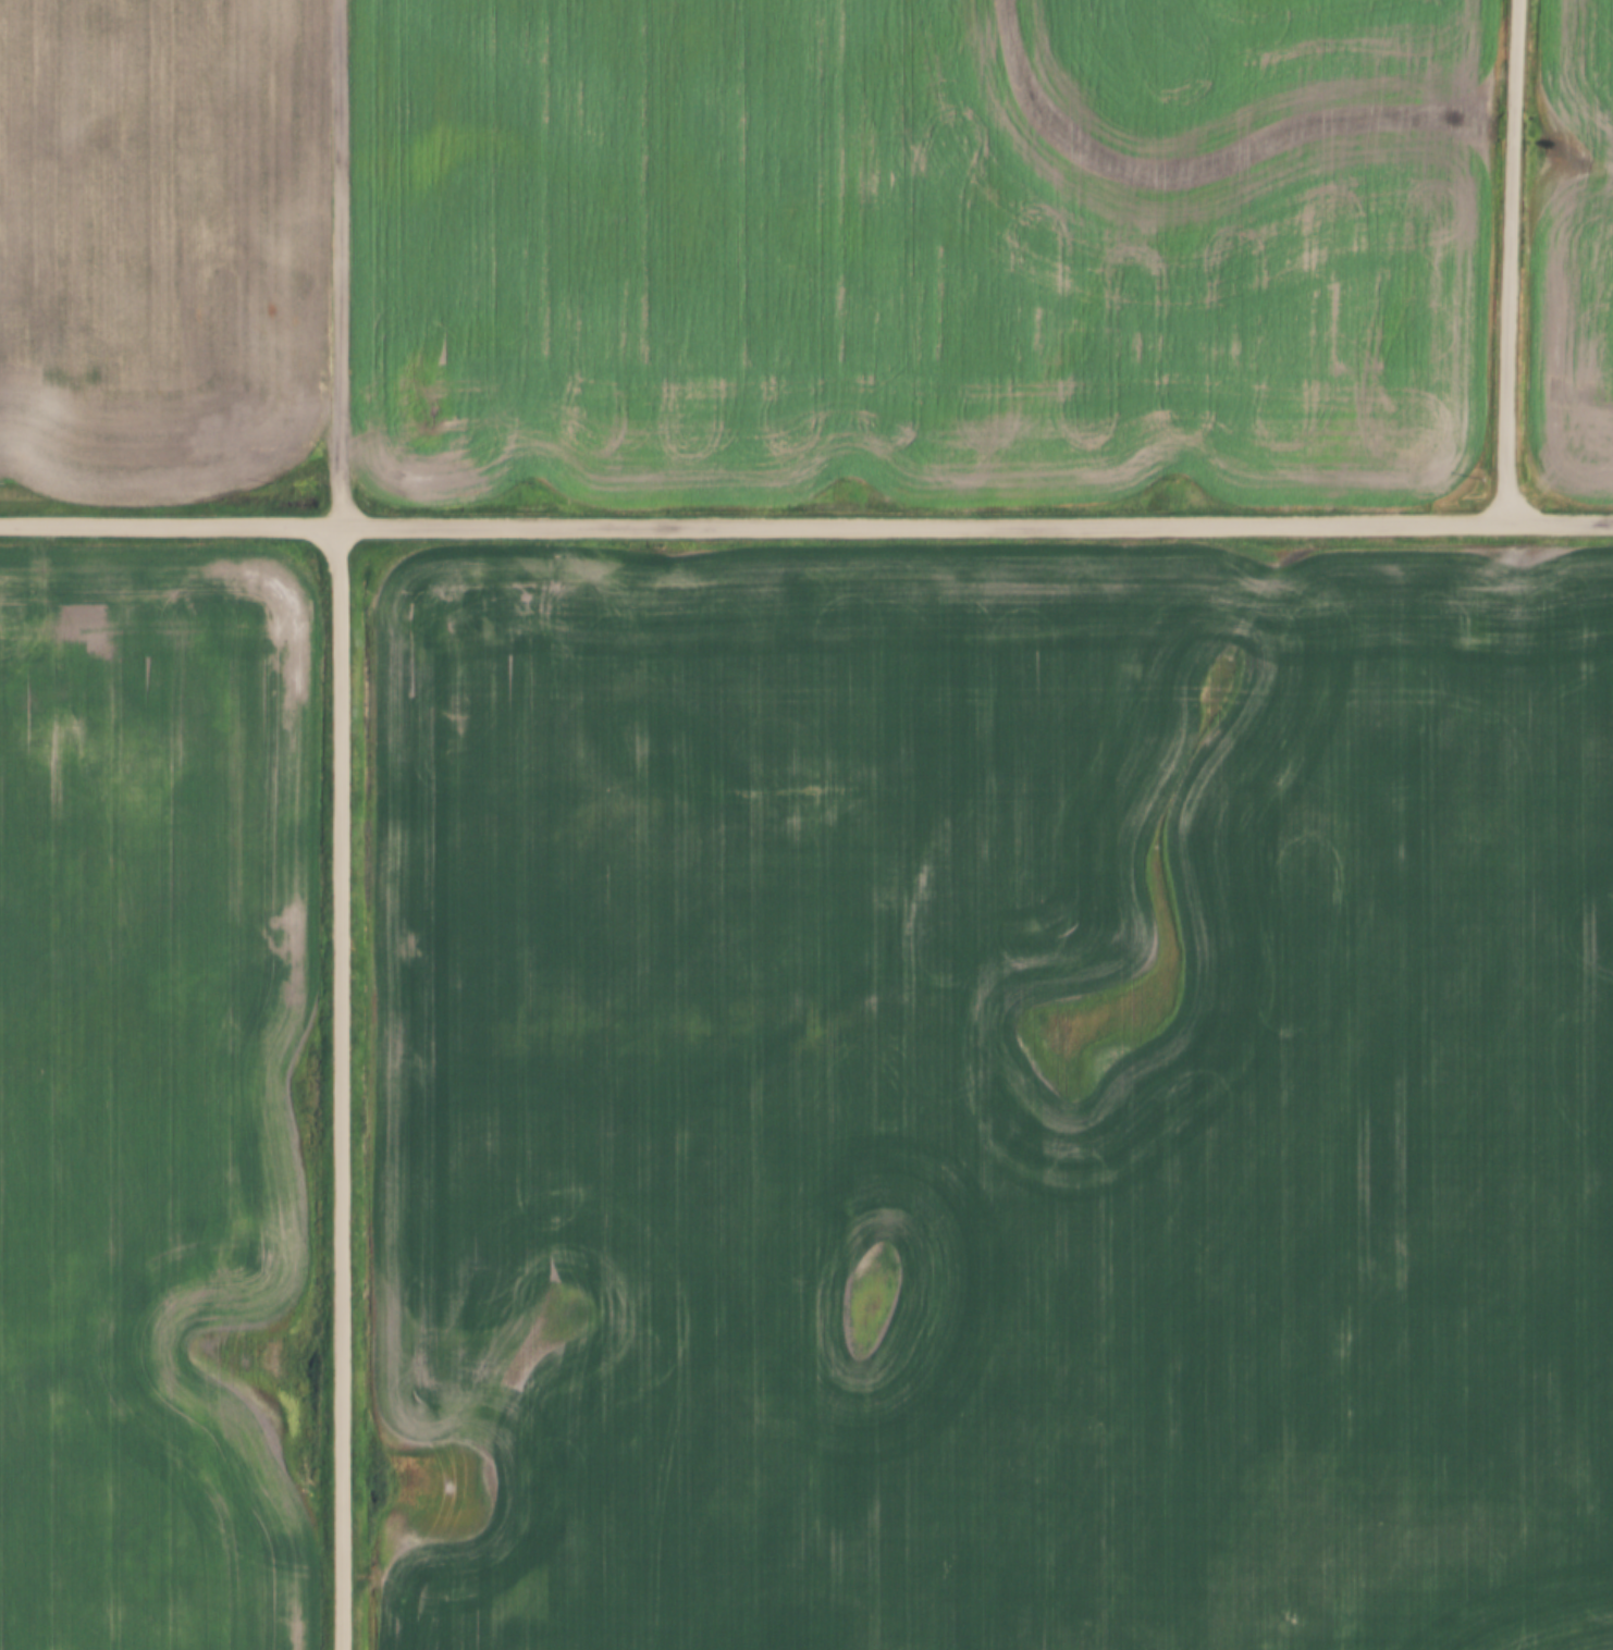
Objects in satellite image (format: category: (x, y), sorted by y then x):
road: (337, 263)
road: (1512, 263)
road: (806, 527)
road: (342, 1087)

